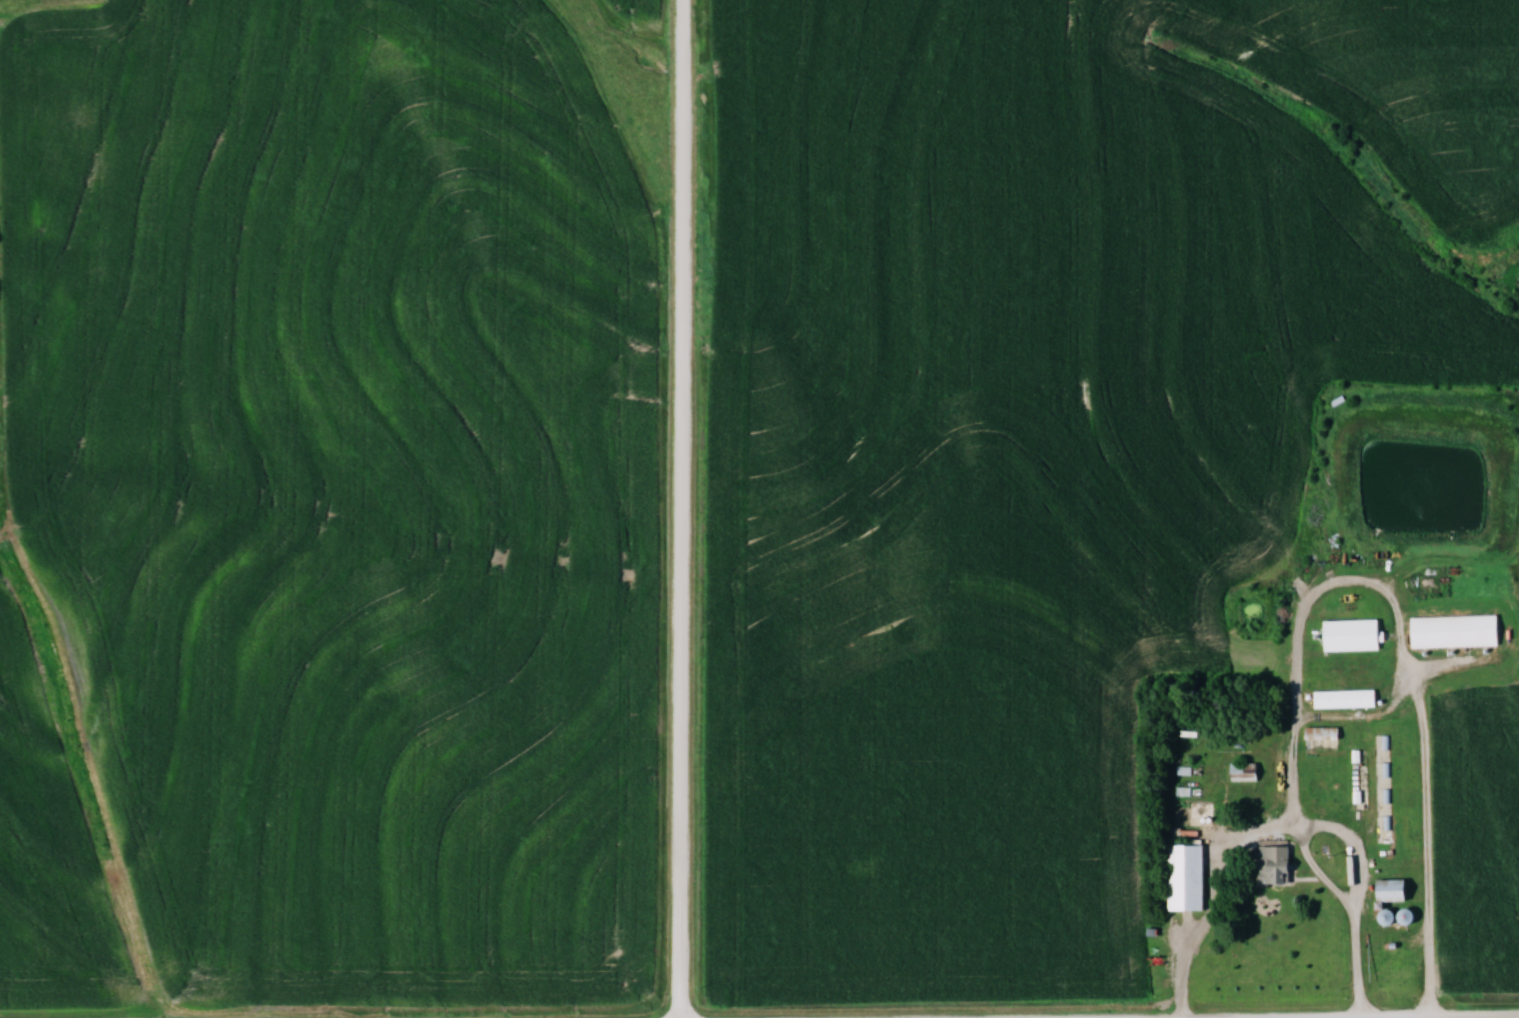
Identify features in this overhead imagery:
road: (685, 508)
building: (1456, 631)
building: (1353, 635)
road: (1398, 643)
building: (1346, 699)
building: (1322, 737)
building: (1245, 772)
building: (1202, 813)
road: (1270, 830)
building: (1276, 866)
building: (1188, 878)
building: (1393, 890)
building: (1408, 916)

